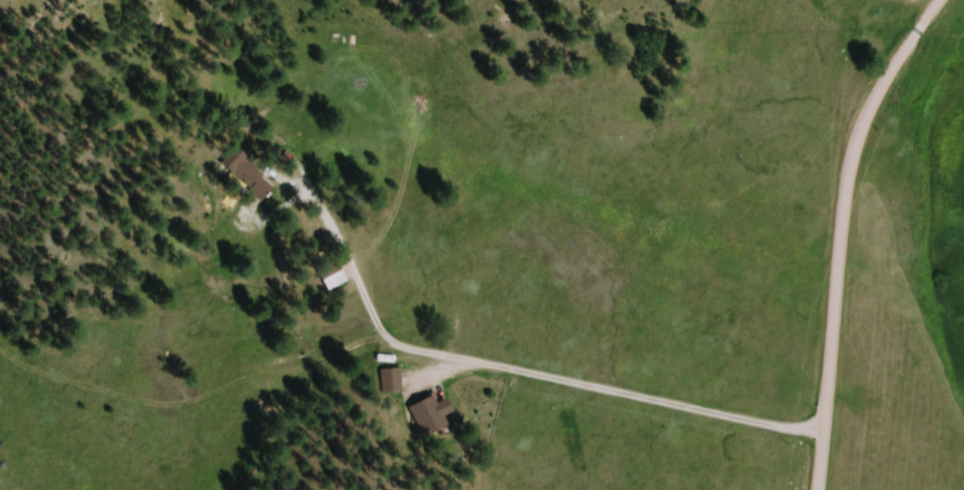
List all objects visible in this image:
building: (253, 177)
road: (837, 232)
building: (394, 382)
road: (604, 384)
building: (436, 417)

